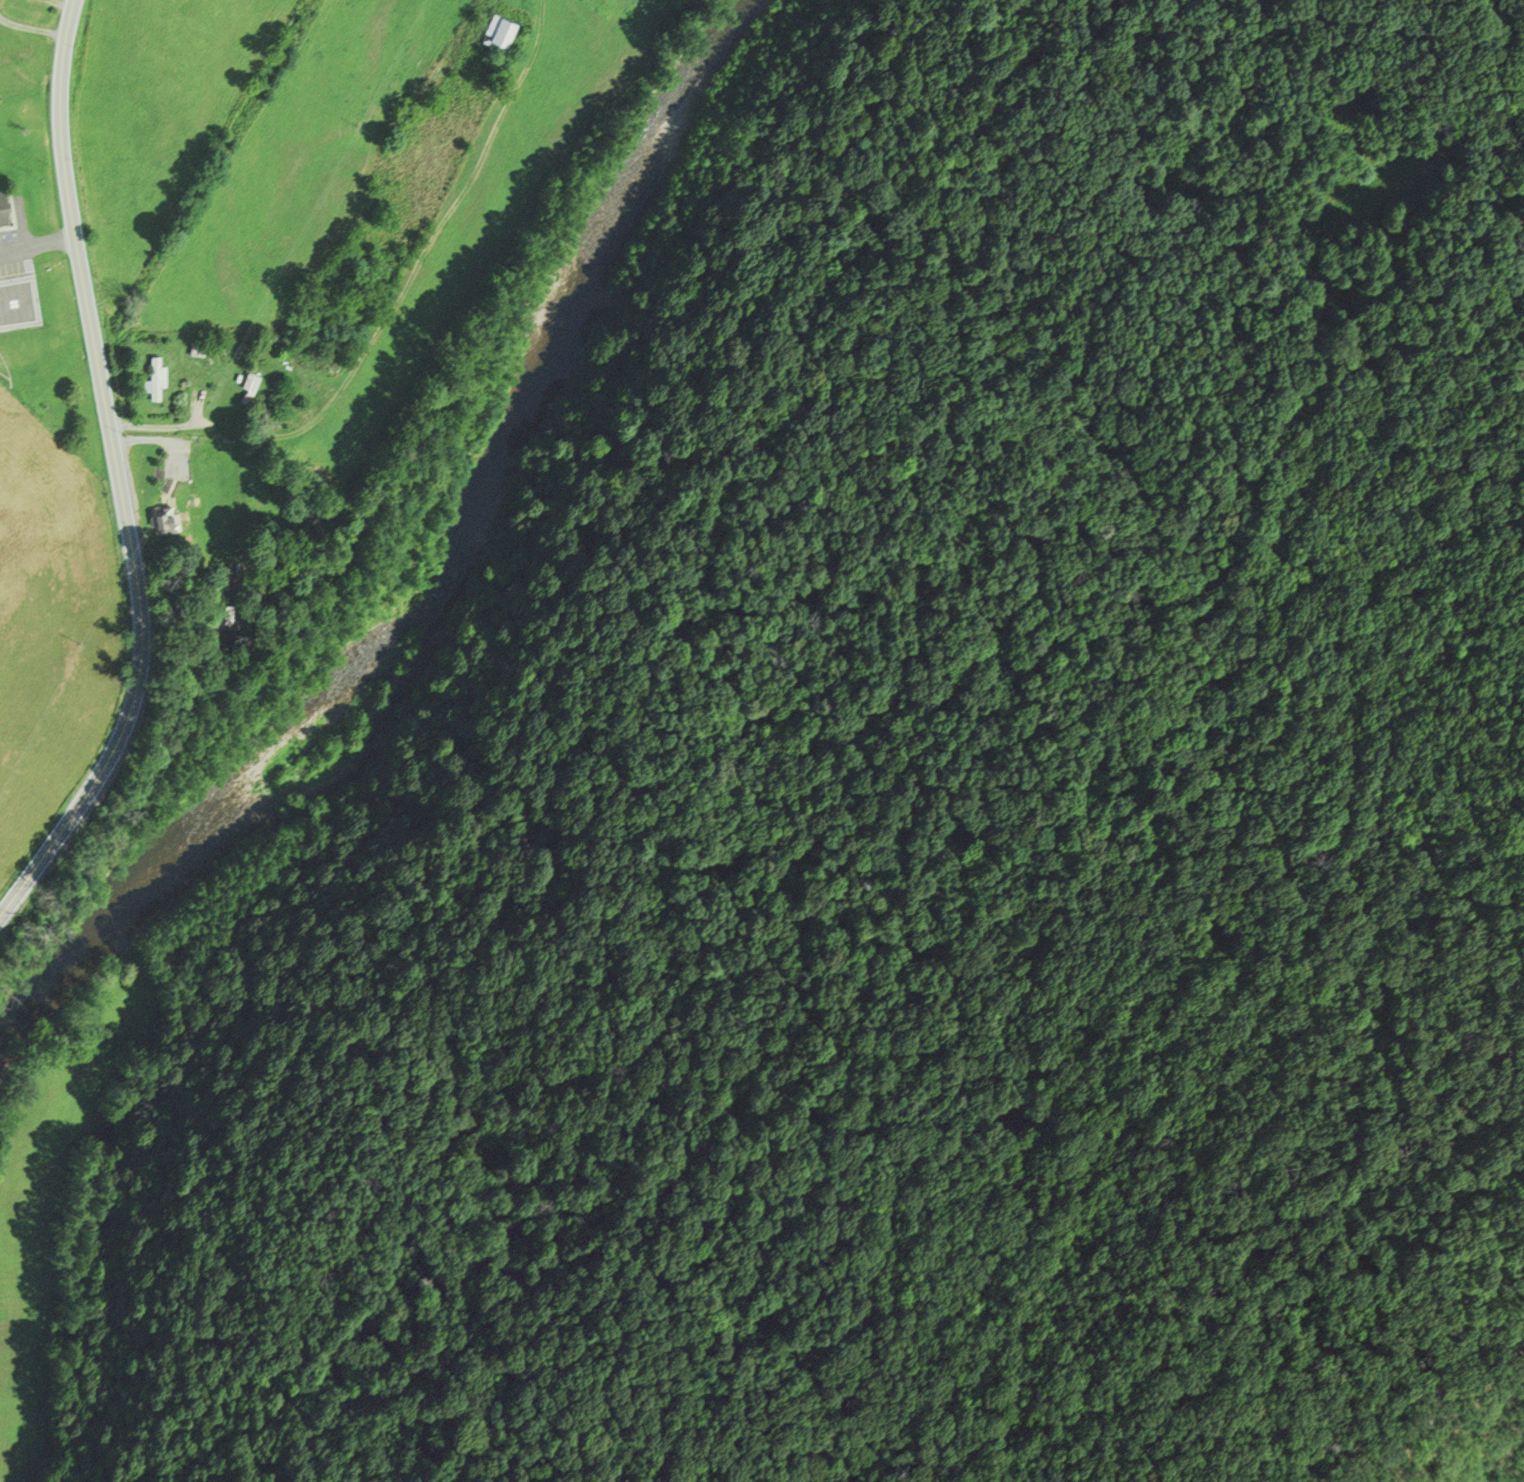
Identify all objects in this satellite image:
road: (61, 2)
road: (31, 28)
building: (497, 31)
building: (1, 211)
road: (38, 244)
road: (418, 260)
parking lot: (17, 280)
building: (196, 348)
building: (154, 377)
building: (250, 380)
road: (167, 424)
road: (116, 475)
building: (162, 522)
river: (457, 580)

